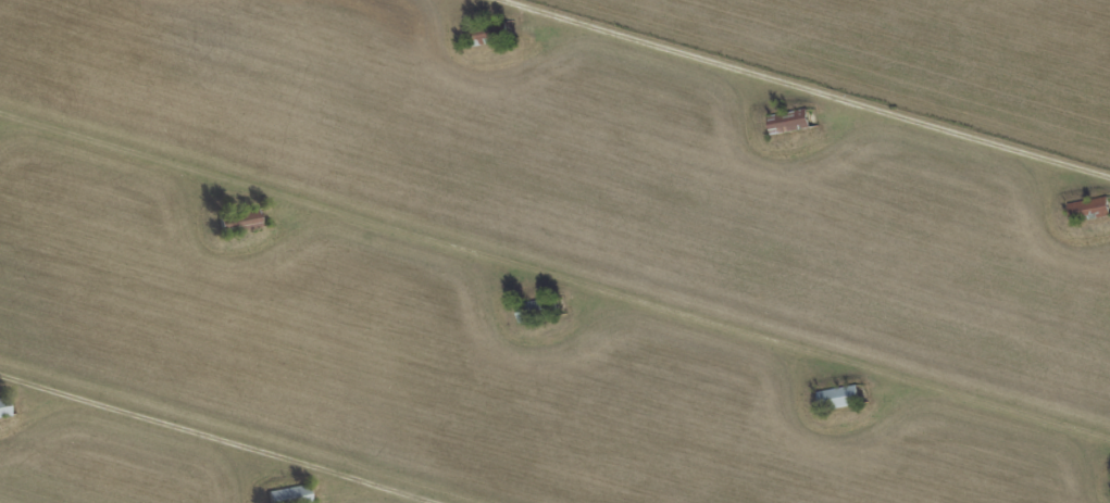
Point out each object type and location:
building: (489, 32)
road: (798, 90)
building: (789, 120)
building: (1089, 208)
building: (238, 221)
road: (554, 272)
building: (539, 309)
building: (838, 395)
building: (3, 407)
road: (213, 440)
building: (289, 494)

